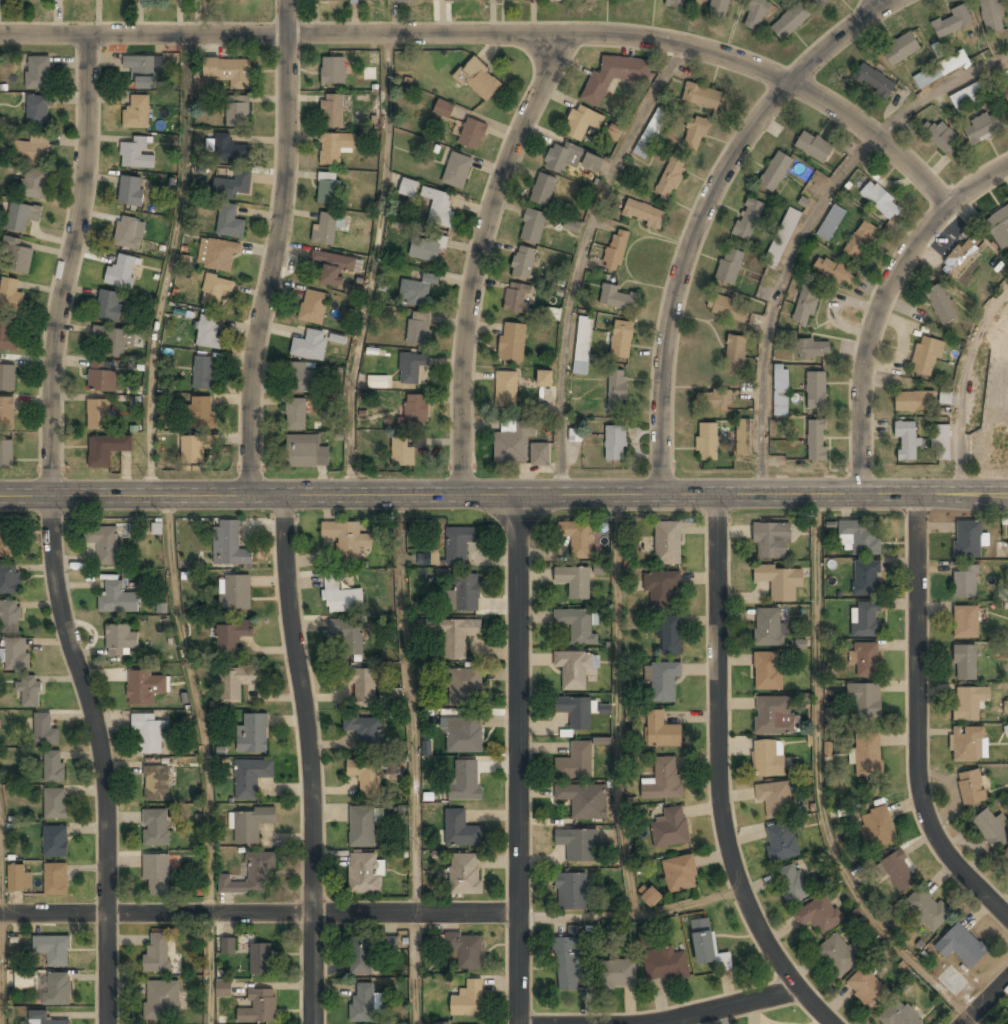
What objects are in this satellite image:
building: (374, 0)
building: (592, 0)
building: (406, 1)
building: (555, 1)
building: (821, 2)
building: (676, 4)
road: (871, 7)
building: (718, 9)
building: (756, 13)
building: (992, 16)
building: (790, 21)
building: (952, 22)
road: (501, 32)
building: (900, 49)
building: (941, 69)
building: (333, 70)
building: (142, 71)
building: (38, 72)
building: (230, 72)
building: (614, 76)
building: (479, 79)
building: (874, 80)
building: (1006, 92)
building: (702, 96)
building: (970, 96)
building: (444, 108)
building: (38, 110)
building: (332, 111)
building: (137, 113)
building: (237, 114)
building: (582, 122)
building: (985, 128)
building: (651, 132)
building: (613, 133)
building: (472, 134)
building: (695, 135)
building: (939, 135)
building: (334, 147)
building: (814, 147)
building: (32, 149)
building: (229, 150)
building: (136, 154)
building: (560, 158)
building: (593, 163)
building: (457, 171)
building: (776, 172)
building: (670, 179)
building: (34, 184)
building: (234, 184)
building: (408, 187)
building: (328, 189)
building: (543, 190)
building: (131, 191)
building: (877, 197)
building: (439, 208)
road: (705, 209)
building: (643, 214)
building: (22, 216)
building: (748, 218)
building: (230, 222)
building: (831, 223)
building: (571, 225)
building: (533, 226)
road: (805, 228)
building: (999, 228)
building: (325, 229)
building: (129, 233)
building: (782, 238)
building: (861, 241)
road: (275, 248)
building: (425, 249)
building: (616, 250)
building: (221, 255)
road: (581, 256)
building: (17, 257)
road: (476, 257)
building: (960, 259)
building: (524, 263)
road: (167, 264)
road: (375, 264)
building: (730, 266)
building: (333, 267)
building: (834, 272)
building: (122, 273)
building: (216, 291)
building: (417, 291)
building: (11, 295)
building: (617, 298)
building: (518, 299)
road: (880, 302)
building: (806, 305)
building: (941, 305)
building: (108, 306)
building: (314, 307)
building: (728, 308)
building: (419, 329)
building: (208, 332)
building: (1001, 334)
building: (8, 336)
building: (622, 339)
building: (109, 340)
building: (512, 342)
building: (583, 344)
building: (311, 345)
building: (813, 350)
building: (734, 355)
building: (927, 356)
building: (412, 367)
building: (204, 372)
building: (7, 378)
building: (101, 378)
building: (301, 378)
building: (545, 380)
building: (379, 382)
building: (507, 390)
building: (617, 390)
building: (780, 390)
building: (816, 390)
building: (946, 398)
building: (715, 402)
building: (914, 402)
building: (415, 410)
building: (201, 412)
building: (6, 413)
building: (296, 414)
building: (98, 415)
building: (743, 437)
building: (1000, 438)
building: (817, 440)
building: (906, 440)
building: (513, 442)
building: (707, 442)
building: (941, 442)
building: (615, 443)
building: (107, 449)
building: (192, 450)
building: (305, 452)
building: (403, 452)
building: (6, 454)
building: (540, 454)
road: (504, 494)
road: (51, 531)
building: (576, 536)
building: (862, 537)
building: (968, 539)
building: (5, 540)
building: (346, 540)
building: (772, 541)
building: (668, 543)
building: (104, 544)
building: (229, 544)
building: (458, 544)
building: (423, 558)
building: (9, 579)
building: (867, 579)
building: (780, 581)
building: (574, 582)
building: (966, 582)
building: (661, 588)
building: (235, 593)
building: (465, 593)
building: (341, 597)
building: (117, 599)
building: (10, 615)
building: (866, 620)
building: (966, 623)
building: (576, 625)
building: (769, 628)
building: (349, 635)
building: (455, 635)
building: (670, 635)
building: (231, 636)
building: (120, 641)
building: (16, 654)
building: (866, 660)
building: (966, 664)
building: (573, 670)
building: (768, 672)
building: (662, 679)
building: (237, 681)
building: (362, 684)
building: (465, 686)
building: (144, 687)
building: (30, 691)
building: (865, 702)
road: (196, 703)
road: (412, 703)
building: (969, 703)
road: (618, 704)
building: (576, 712)
building: (773, 715)
road: (915, 721)
building: (662, 730)
building: (44, 731)
building: (365, 731)
building: (253, 733)
building: (149, 735)
building: (464, 735)
building: (968, 744)
building: (868, 755)
road: (308, 758)
road: (517, 759)
building: (768, 759)
building: (576, 762)
building: (53, 767)
road: (717, 775)
building: (251, 776)
building: (366, 777)
building: (465, 780)
building: (663, 780)
building: (157, 784)
road: (819, 784)
building: (972, 788)
building: (776, 799)
building: (577, 800)
building: (55, 803)
building: (251, 824)
building: (362, 827)
building: (155, 828)
building: (671, 828)
building: (880, 828)
building: (992, 829)
building: (460, 830)
building: (55, 840)
building: (782, 841)
building: (577, 845)
road: (1, 869)
building: (899, 872)
building: (363, 873)
building: (680, 874)
building: (157, 875)
building: (465, 875)
building: (252, 876)
building: (19, 877)
building: (56, 878)
building: (792, 884)
building: (571, 892)
building: (651, 897)
building: (928, 910)
road: (258, 913)
road: (629, 915)
building: (818, 916)
building: (388, 943)
building: (228, 945)
building: (962, 946)
building: (53, 949)
building: (465, 950)
building: (709, 950)
building: (158, 953)
building: (838, 955)
building: (360, 956)
building: (260, 959)
building: (566, 965)
building: (665, 965)
road: (212, 968)
road: (416, 968)
road: (2, 969)
building: (618, 974)
building: (24, 979)
building: (223, 988)
building: (56, 989)
building: (868, 989)
building: (162, 1000)
building: (468, 1000)
road: (984, 1001)
building: (364, 1002)
road: (722, 1007)
building: (259, 1008)
building: (899, 1014)
building: (42, 1018)
building: (441, 1022)

